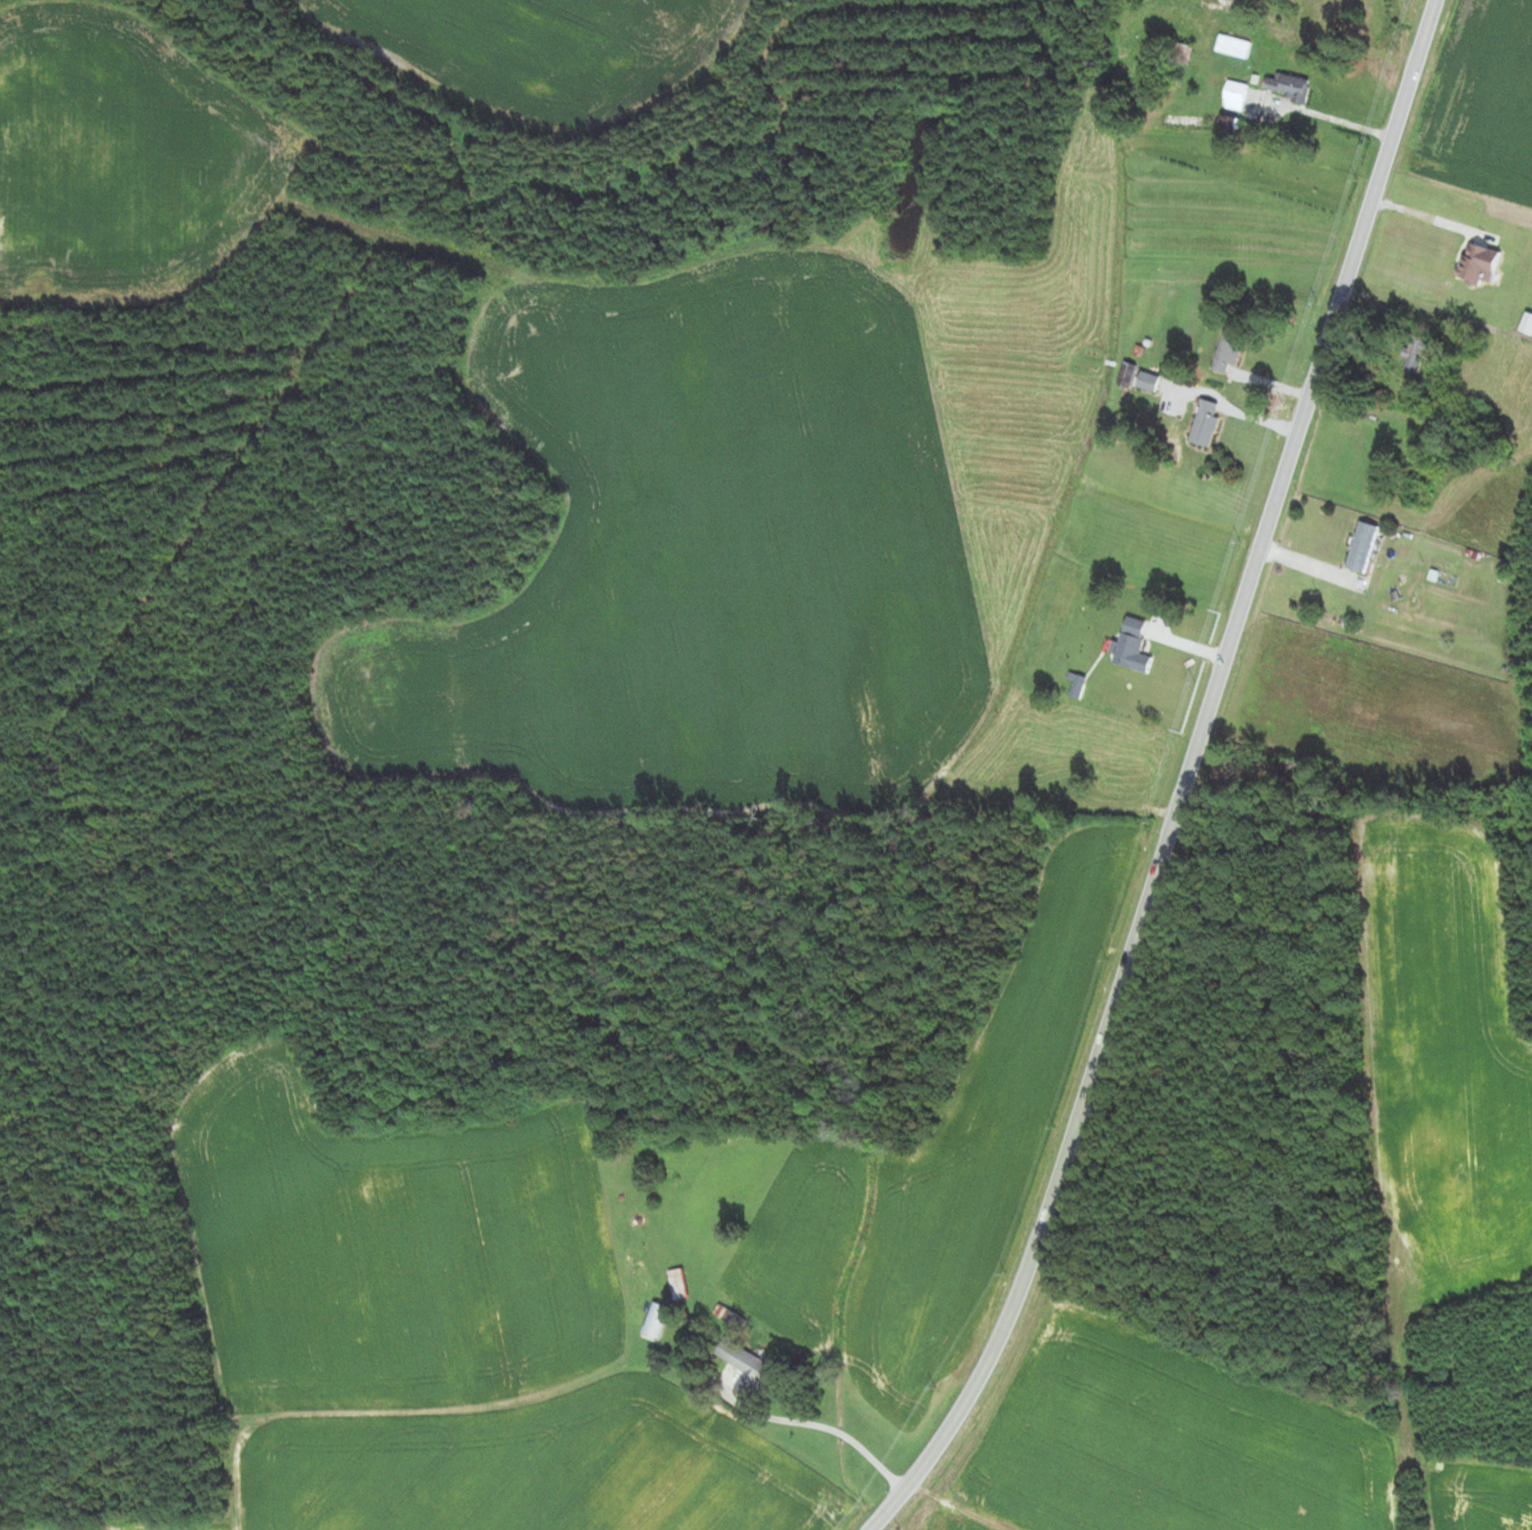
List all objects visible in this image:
building: (1233, 46)
power tower: (1396, 51)
building: (1182, 54)
building: (1287, 87)
building: (1235, 96)
power tower: (1357, 177)
power tower: (1316, 303)
building: (1416, 352)
building: (1226, 353)
building: (1147, 382)
power tower: (1283, 406)
building: (1204, 423)
power tower: (1240, 541)
building: (1361, 547)
building: (1132, 646)
power tower: (1193, 684)
building: (1299, 770)
road: (1185, 779)
power tower: (1152, 817)
power tower: (1106, 959)
power tower: (1055, 1124)
power tower: (1005, 1267)
building: (677, 1284)
building: (731, 1319)
building: (654, 1322)
building: (747, 1371)
road: (824, 1427)
power tower: (864, 1505)

